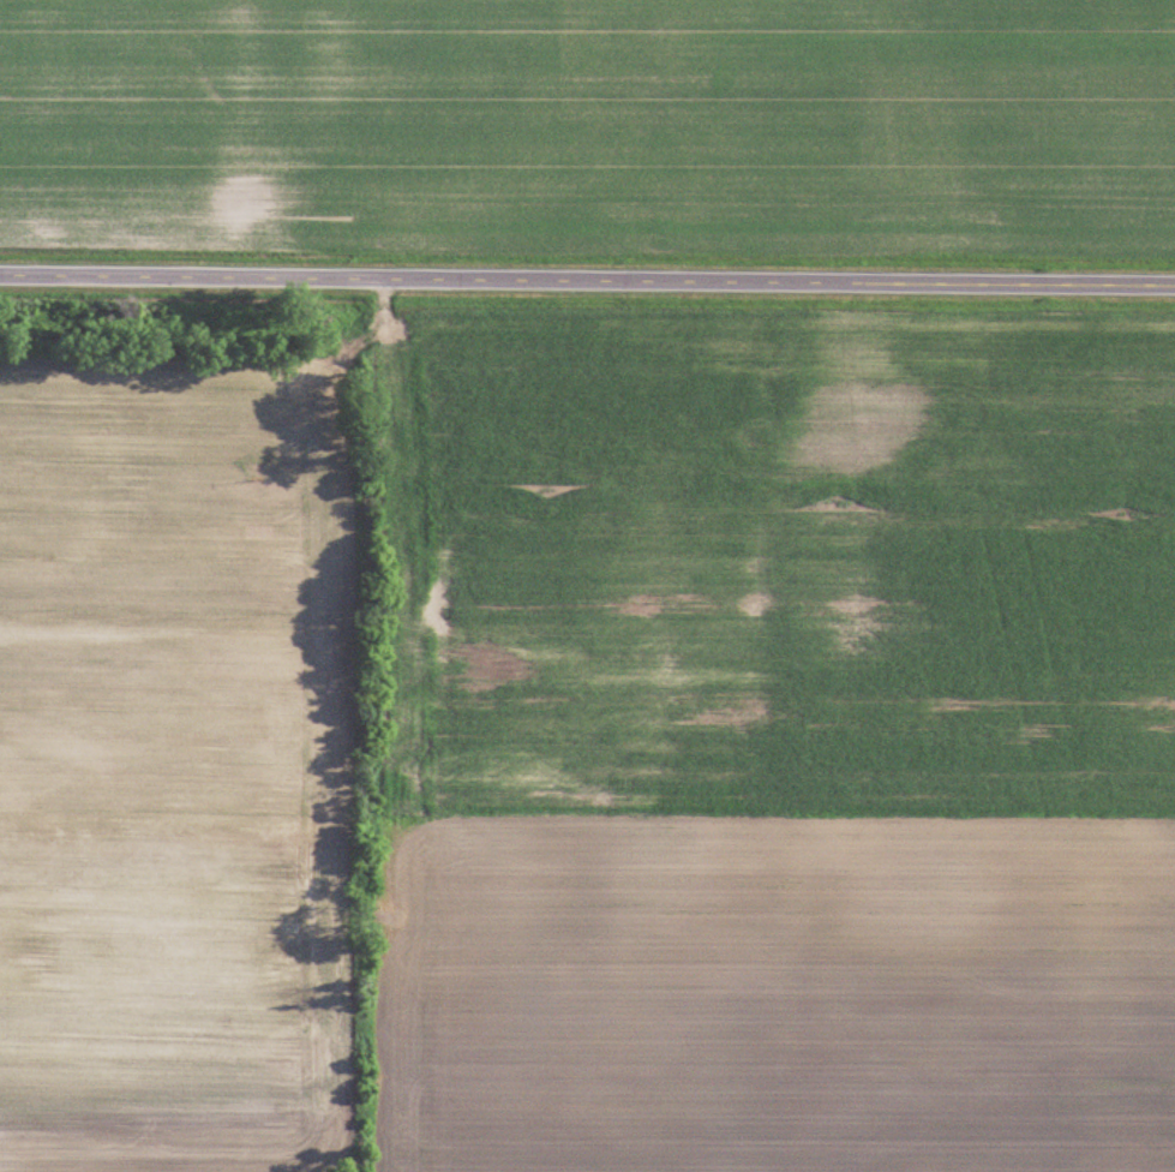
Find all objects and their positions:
road: (587, 279)

